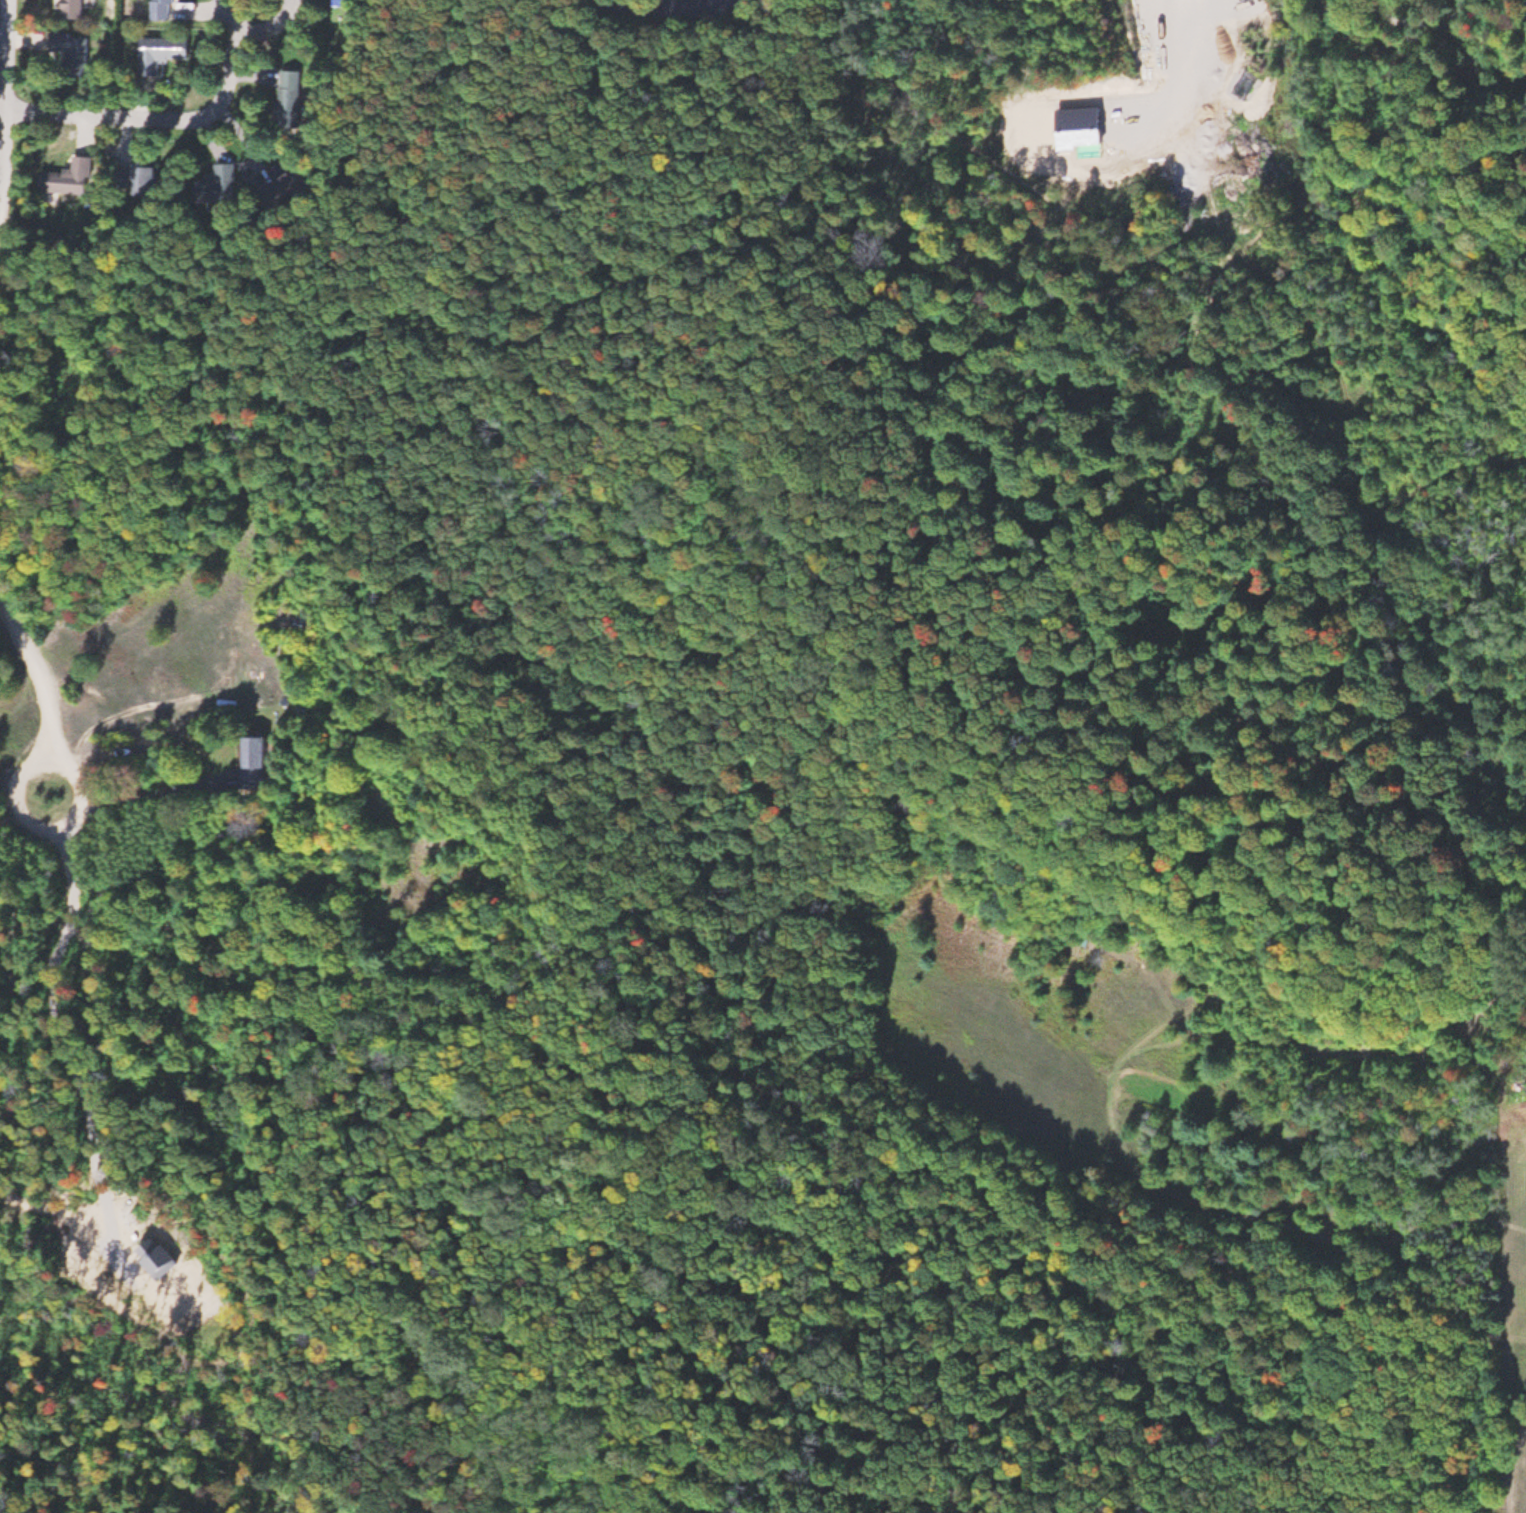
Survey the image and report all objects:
building: (344, 3)
building: (74, 9)
building: (164, 9)
road: (674, 10)
building: (72, 47)
building: (163, 53)
building: (290, 99)
road: (10, 109)
building: (69, 178)
building: (145, 180)
building: (290, 185)
road: (48, 693)
building: (256, 762)

